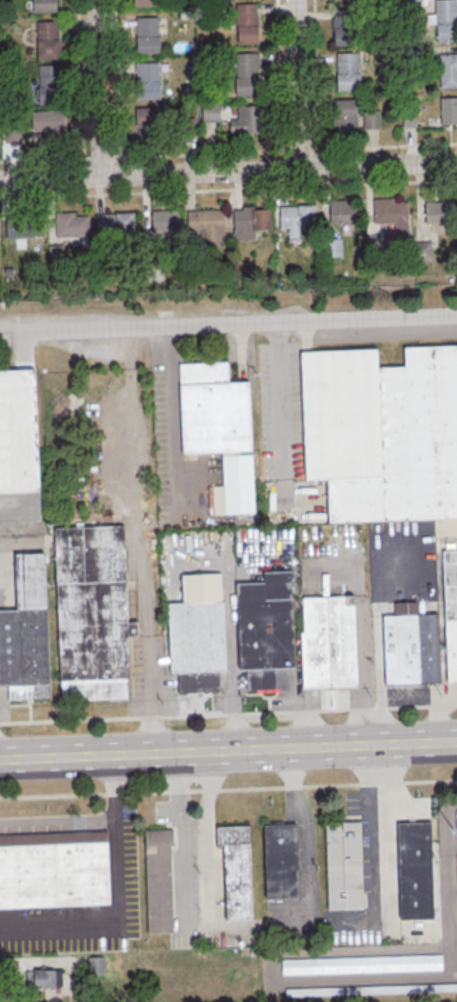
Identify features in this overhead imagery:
building: (343, 0)
building: (144, 3)
building: (43, 5)
building: (445, 20)
building: (246, 22)
building: (342, 27)
building: (147, 35)
building: (48, 39)
building: (446, 70)
building: (348, 71)
building: (244, 74)
road: (313, 74)
road: (276, 75)
road: (114, 78)
road: (77, 79)
building: (147, 79)
building: (49, 83)
road: (294, 83)
road: (96, 87)
building: (447, 110)
building: (212, 112)
building: (344, 113)
building: (246, 119)
building: (371, 119)
building: (146, 121)
building: (47, 124)
building: (10, 134)
road: (228, 152)
road: (228, 170)
road: (228, 188)
building: (341, 212)
building: (436, 212)
building: (295, 216)
building: (162, 220)
building: (390, 221)
building: (247, 222)
building: (68, 224)
building: (112, 224)
building: (205, 225)
building: (21, 226)
building: (330, 247)
building: (53, 254)
road: (228, 322)
road: (129, 346)
road: (280, 411)
road: (173, 419)
building: (218, 430)
building: (382, 432)
building: (18, 446)
road: (138, 500)
parking lot: (399, 574)
building: (450, 610)
building: (91, 612)
road: (363, 626)
building: (266, 629)
building: (26, 632)
building: (197, 633)
road: (228, 636)
building: (329, 641)
building: (401, 644)
building: (428, 647)
road: (148, 693)
road: (228, 714)
road: (228, 750)
road: (228, 788)
building: (456, 819)
road: (60, 821)
road: (305, 828)
road: (374, 832)
road: (207, 833)
road: (187, 835)
road: (452, 845)
building: (281, 860)
road: (448, 862)
building: (344, 865)
building: (53, 869)
building: (415, 870)
building: (236, 871)
building: (159, 881)
road: (453, 889)
road: (122, 898)
road: (454, 931)
road: (350, 951)
road: (451, 962)
building: (361, 964)
building: (95, 965)
building: (45, 978)
road: (364, 978)
building: (372, 989)

